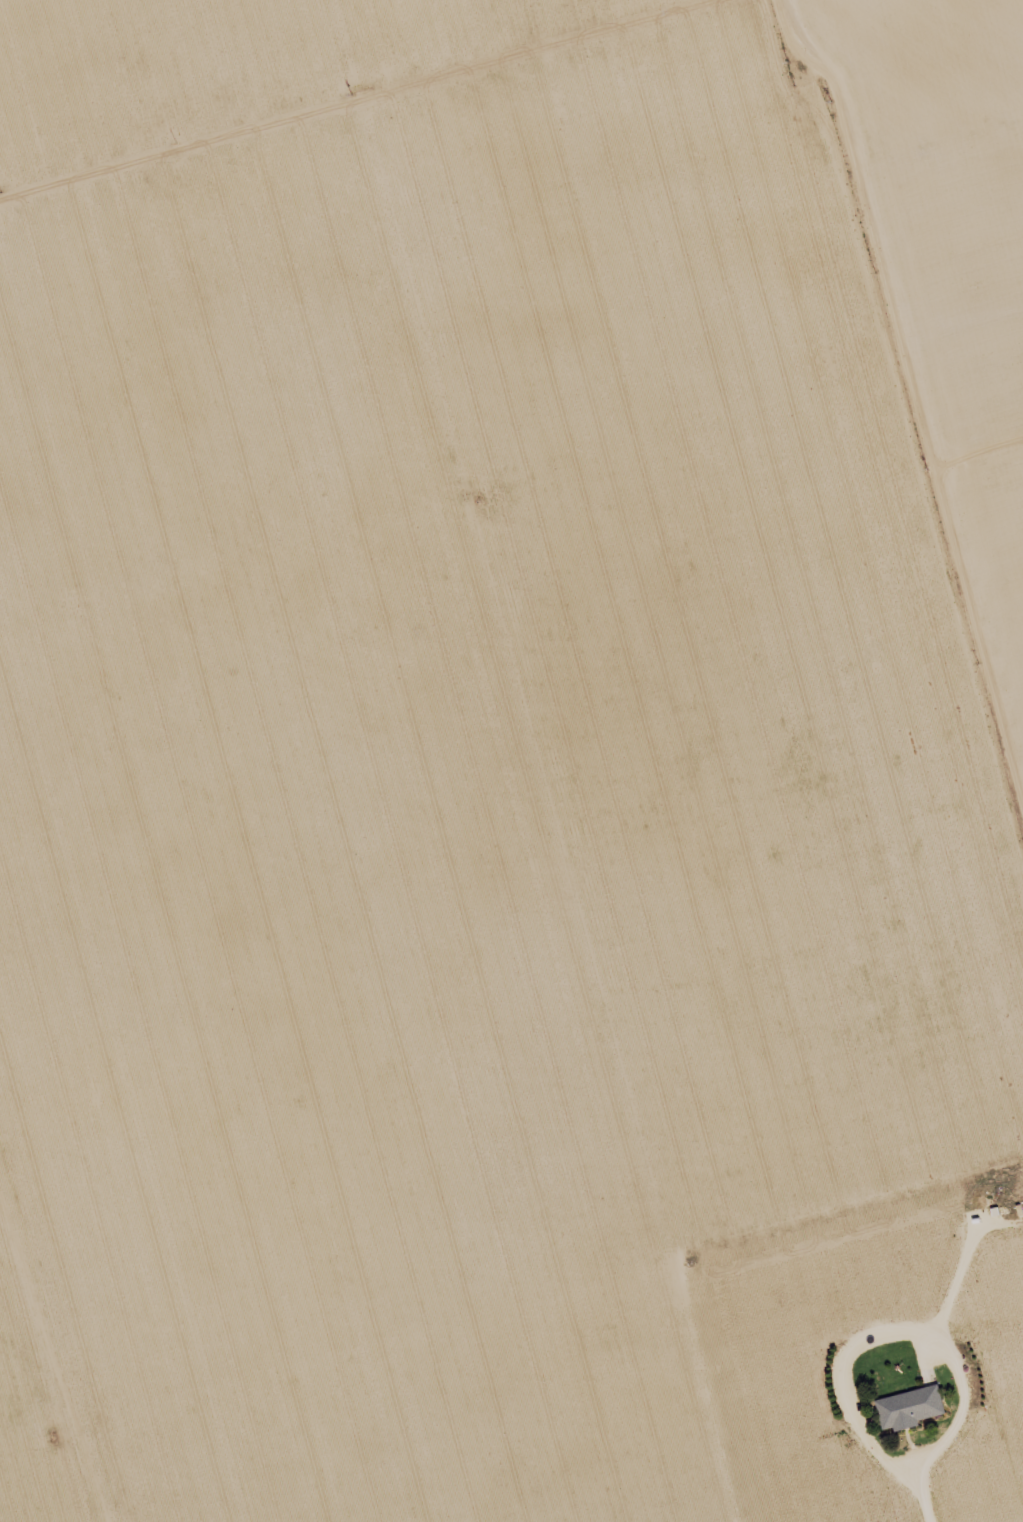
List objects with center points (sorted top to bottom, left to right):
road: (479, 239)
road: (912, 388)
road: (524, 816)
road: (889, 1330)
road: (47, 1395)
building: (908, 1405)
road: (922, 1498)

